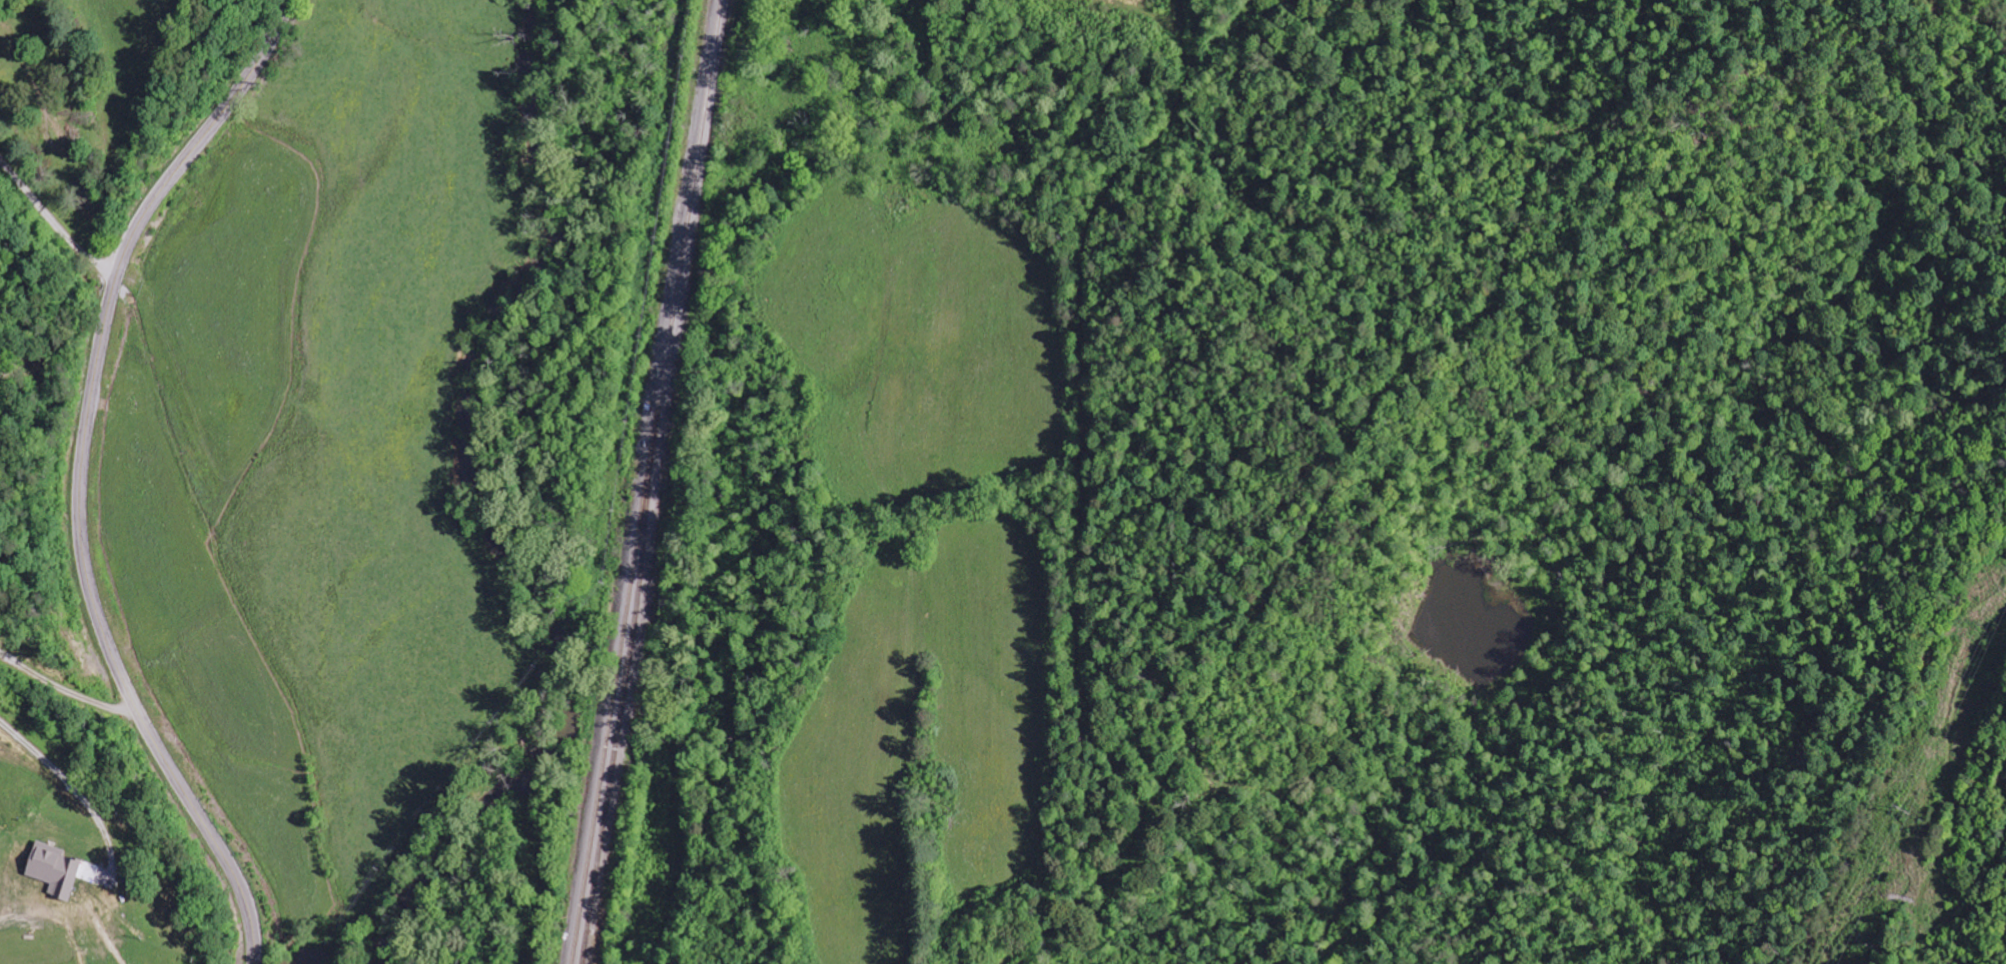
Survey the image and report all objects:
road: (82, 472)
railway: (652, 481)
building: (53, 870)

